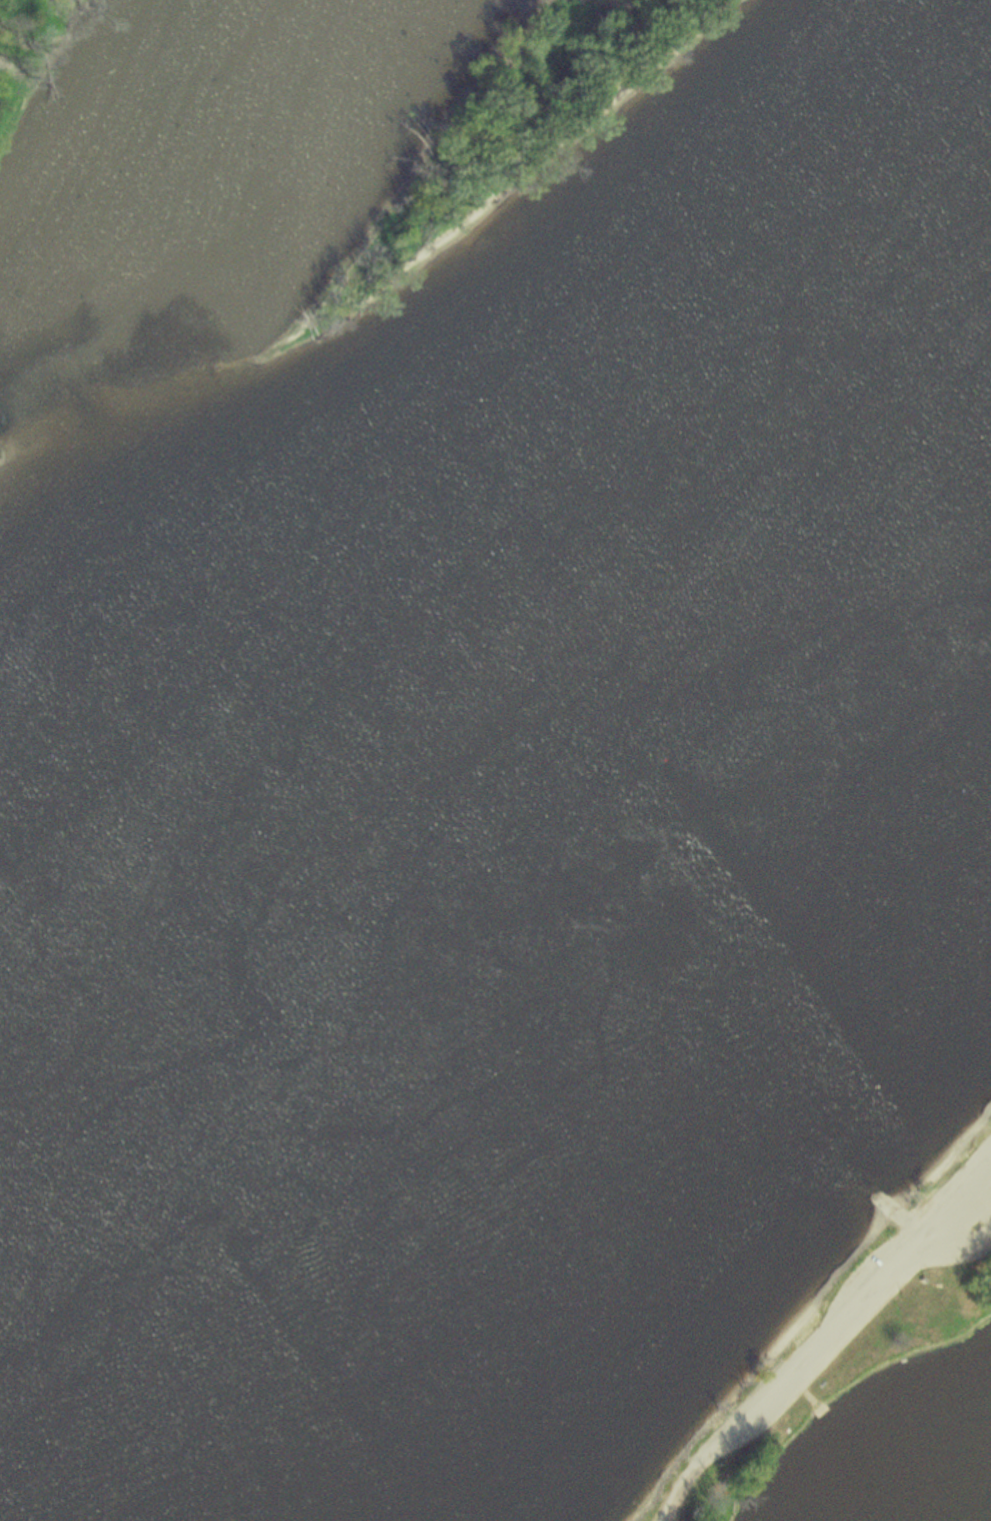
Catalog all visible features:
river: (479, 547)
parking lot: (880, 1271)
road: (860, 1295)
park: (888, 1339)
road: (684, 1469)

